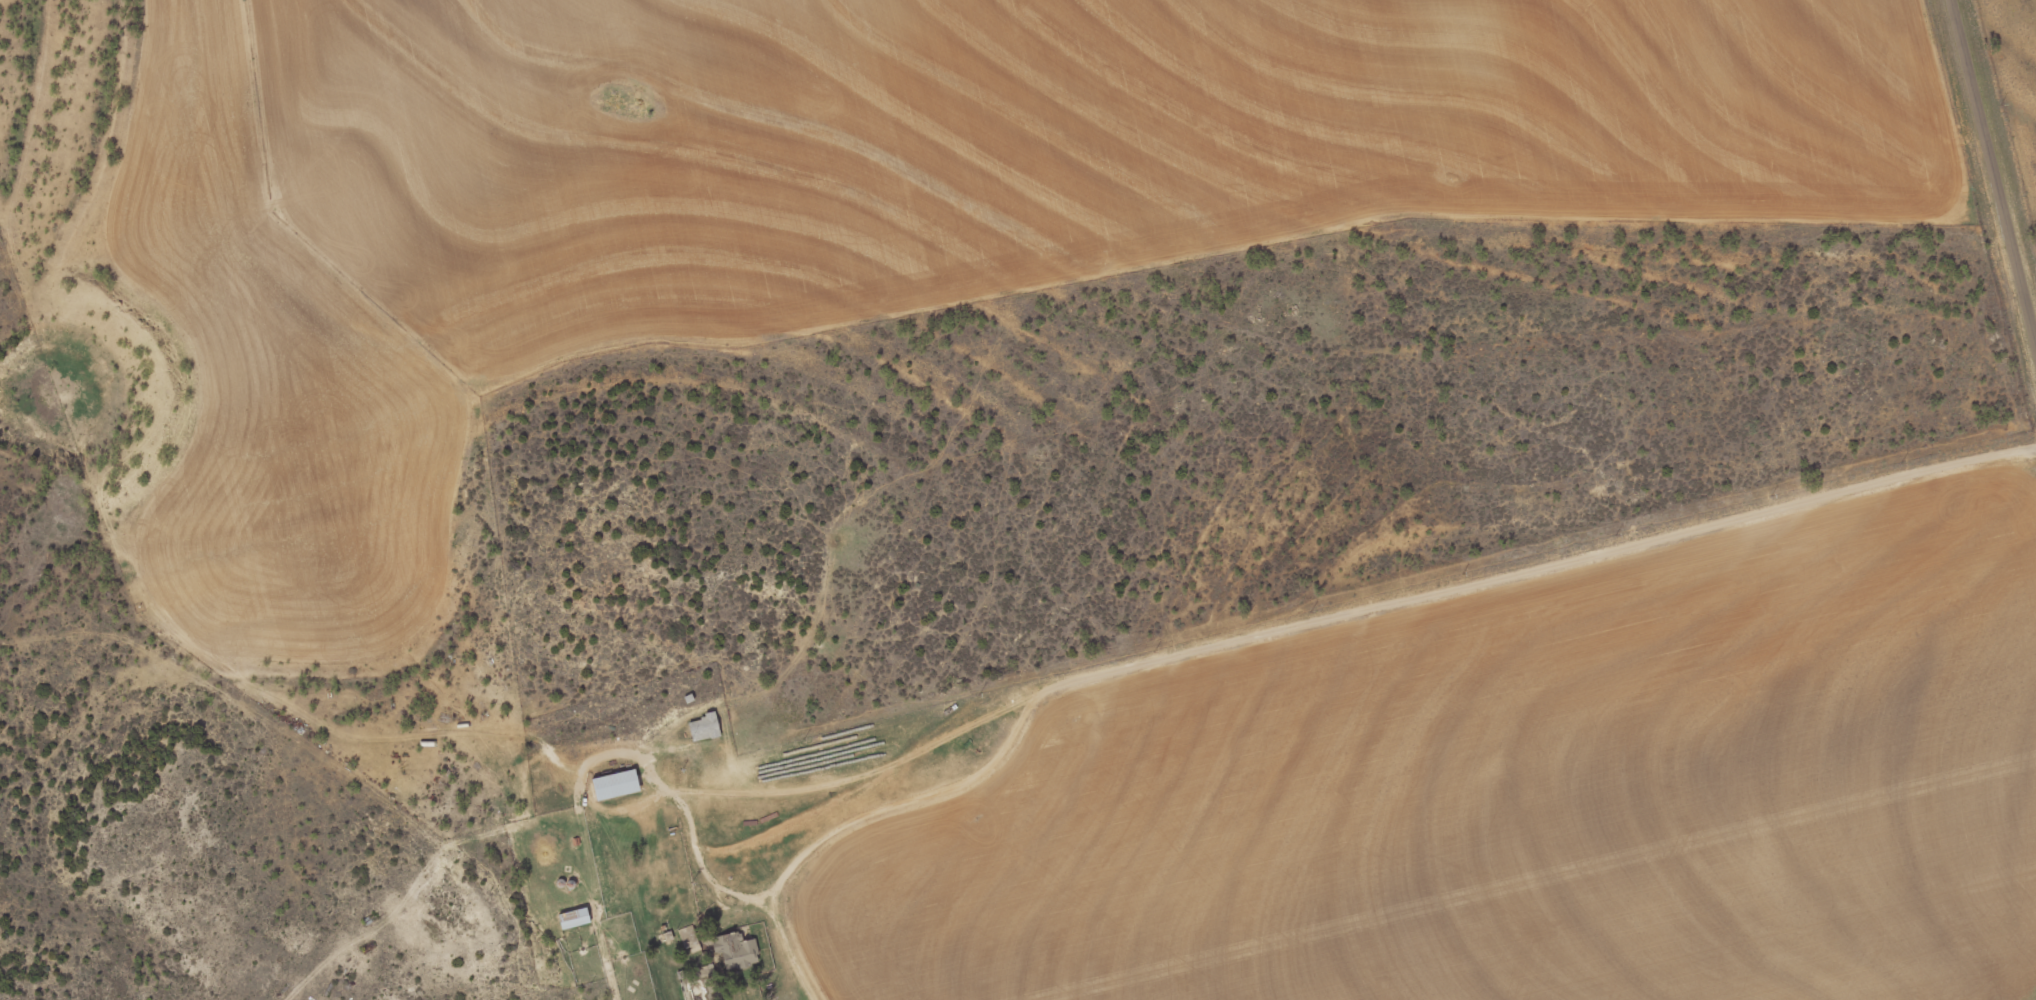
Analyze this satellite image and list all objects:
road: (1995, 163)
road: (1075, 683)
building: (705, 726)
building: (617, 784)

